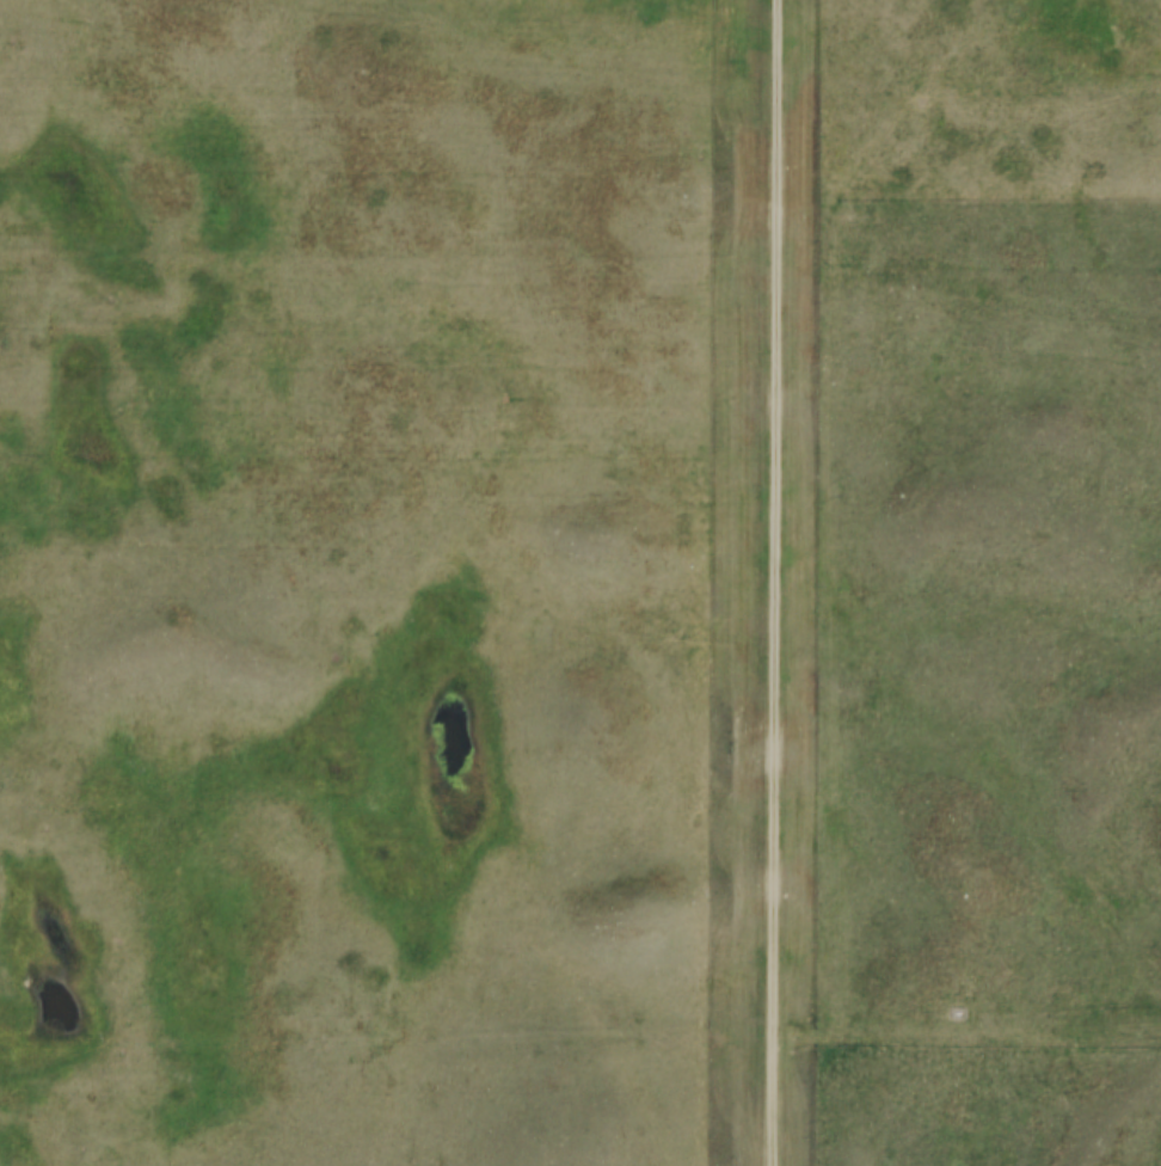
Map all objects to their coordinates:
road: (780, 583)

